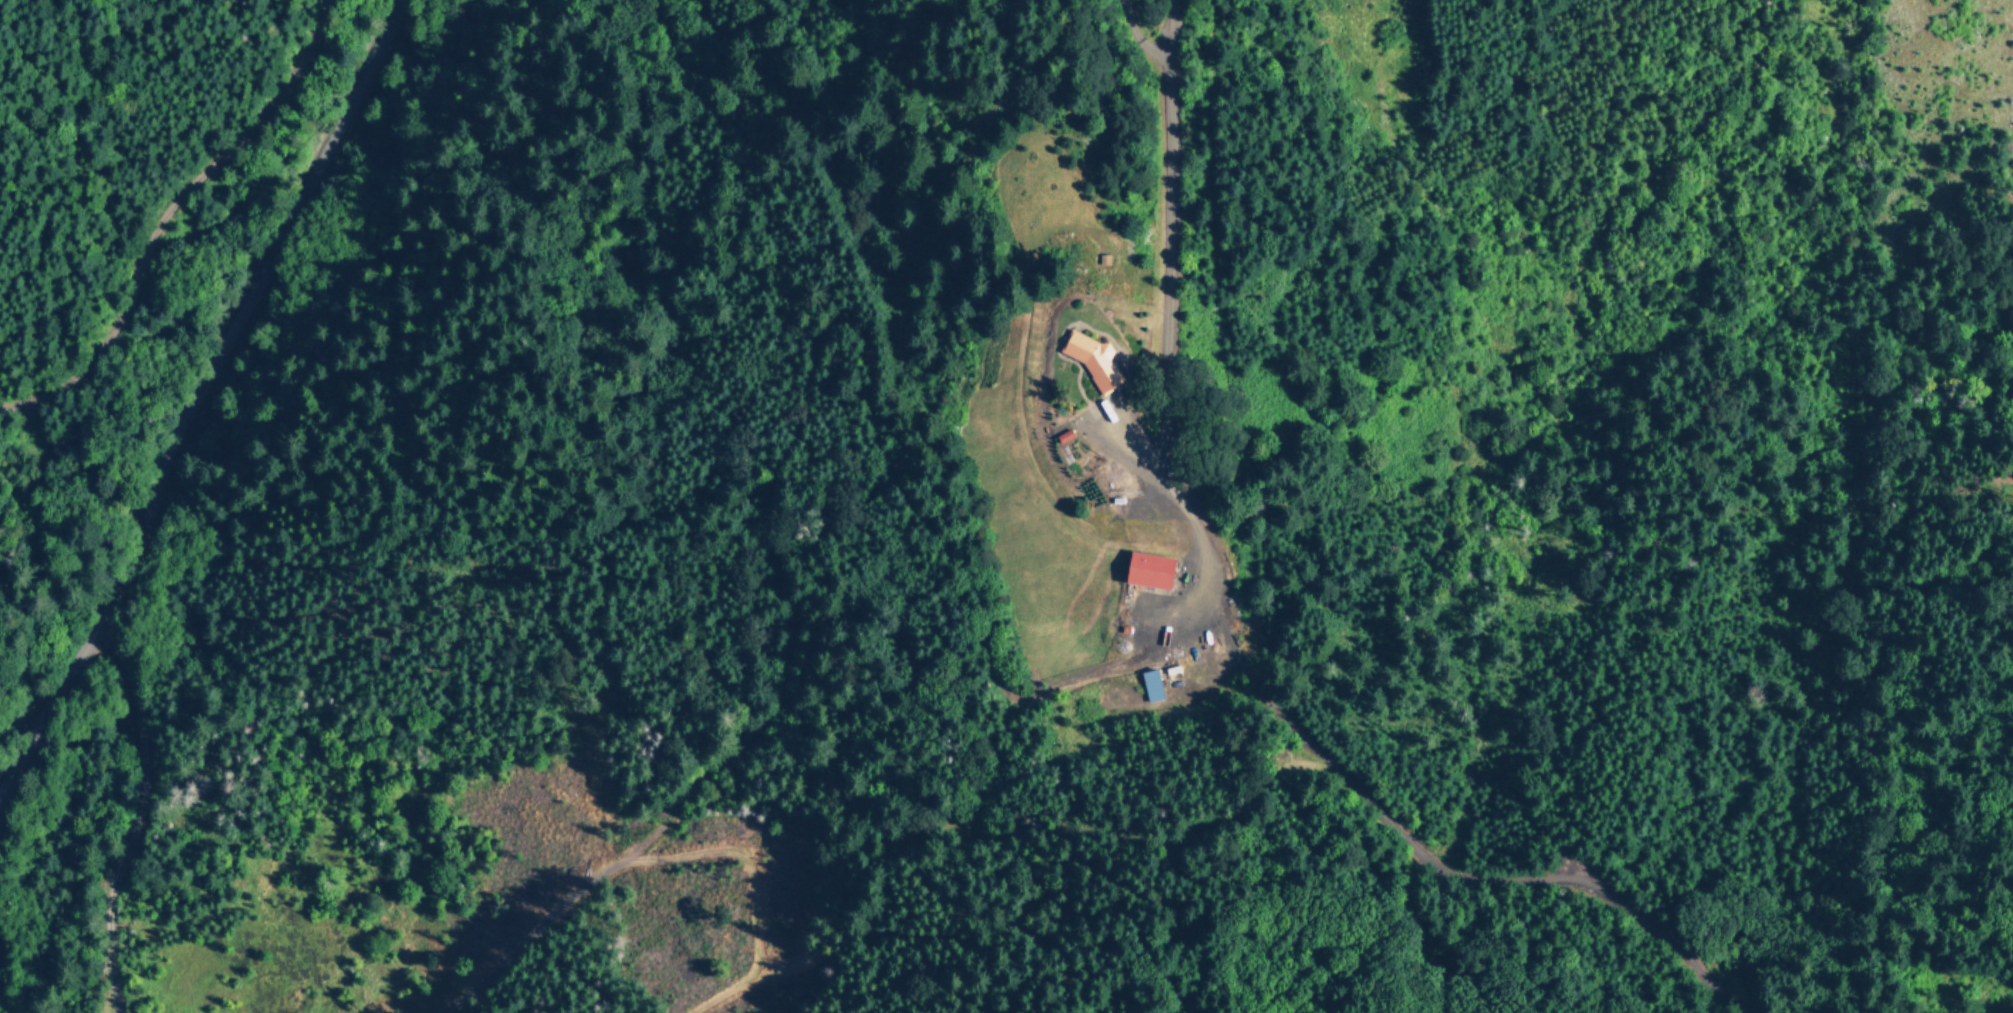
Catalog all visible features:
building: (1096, 361)
road: (189, 388)
road: (1167, 409)
building: (1153, 571)
building: (1152, 686)
road: (128, 812)

